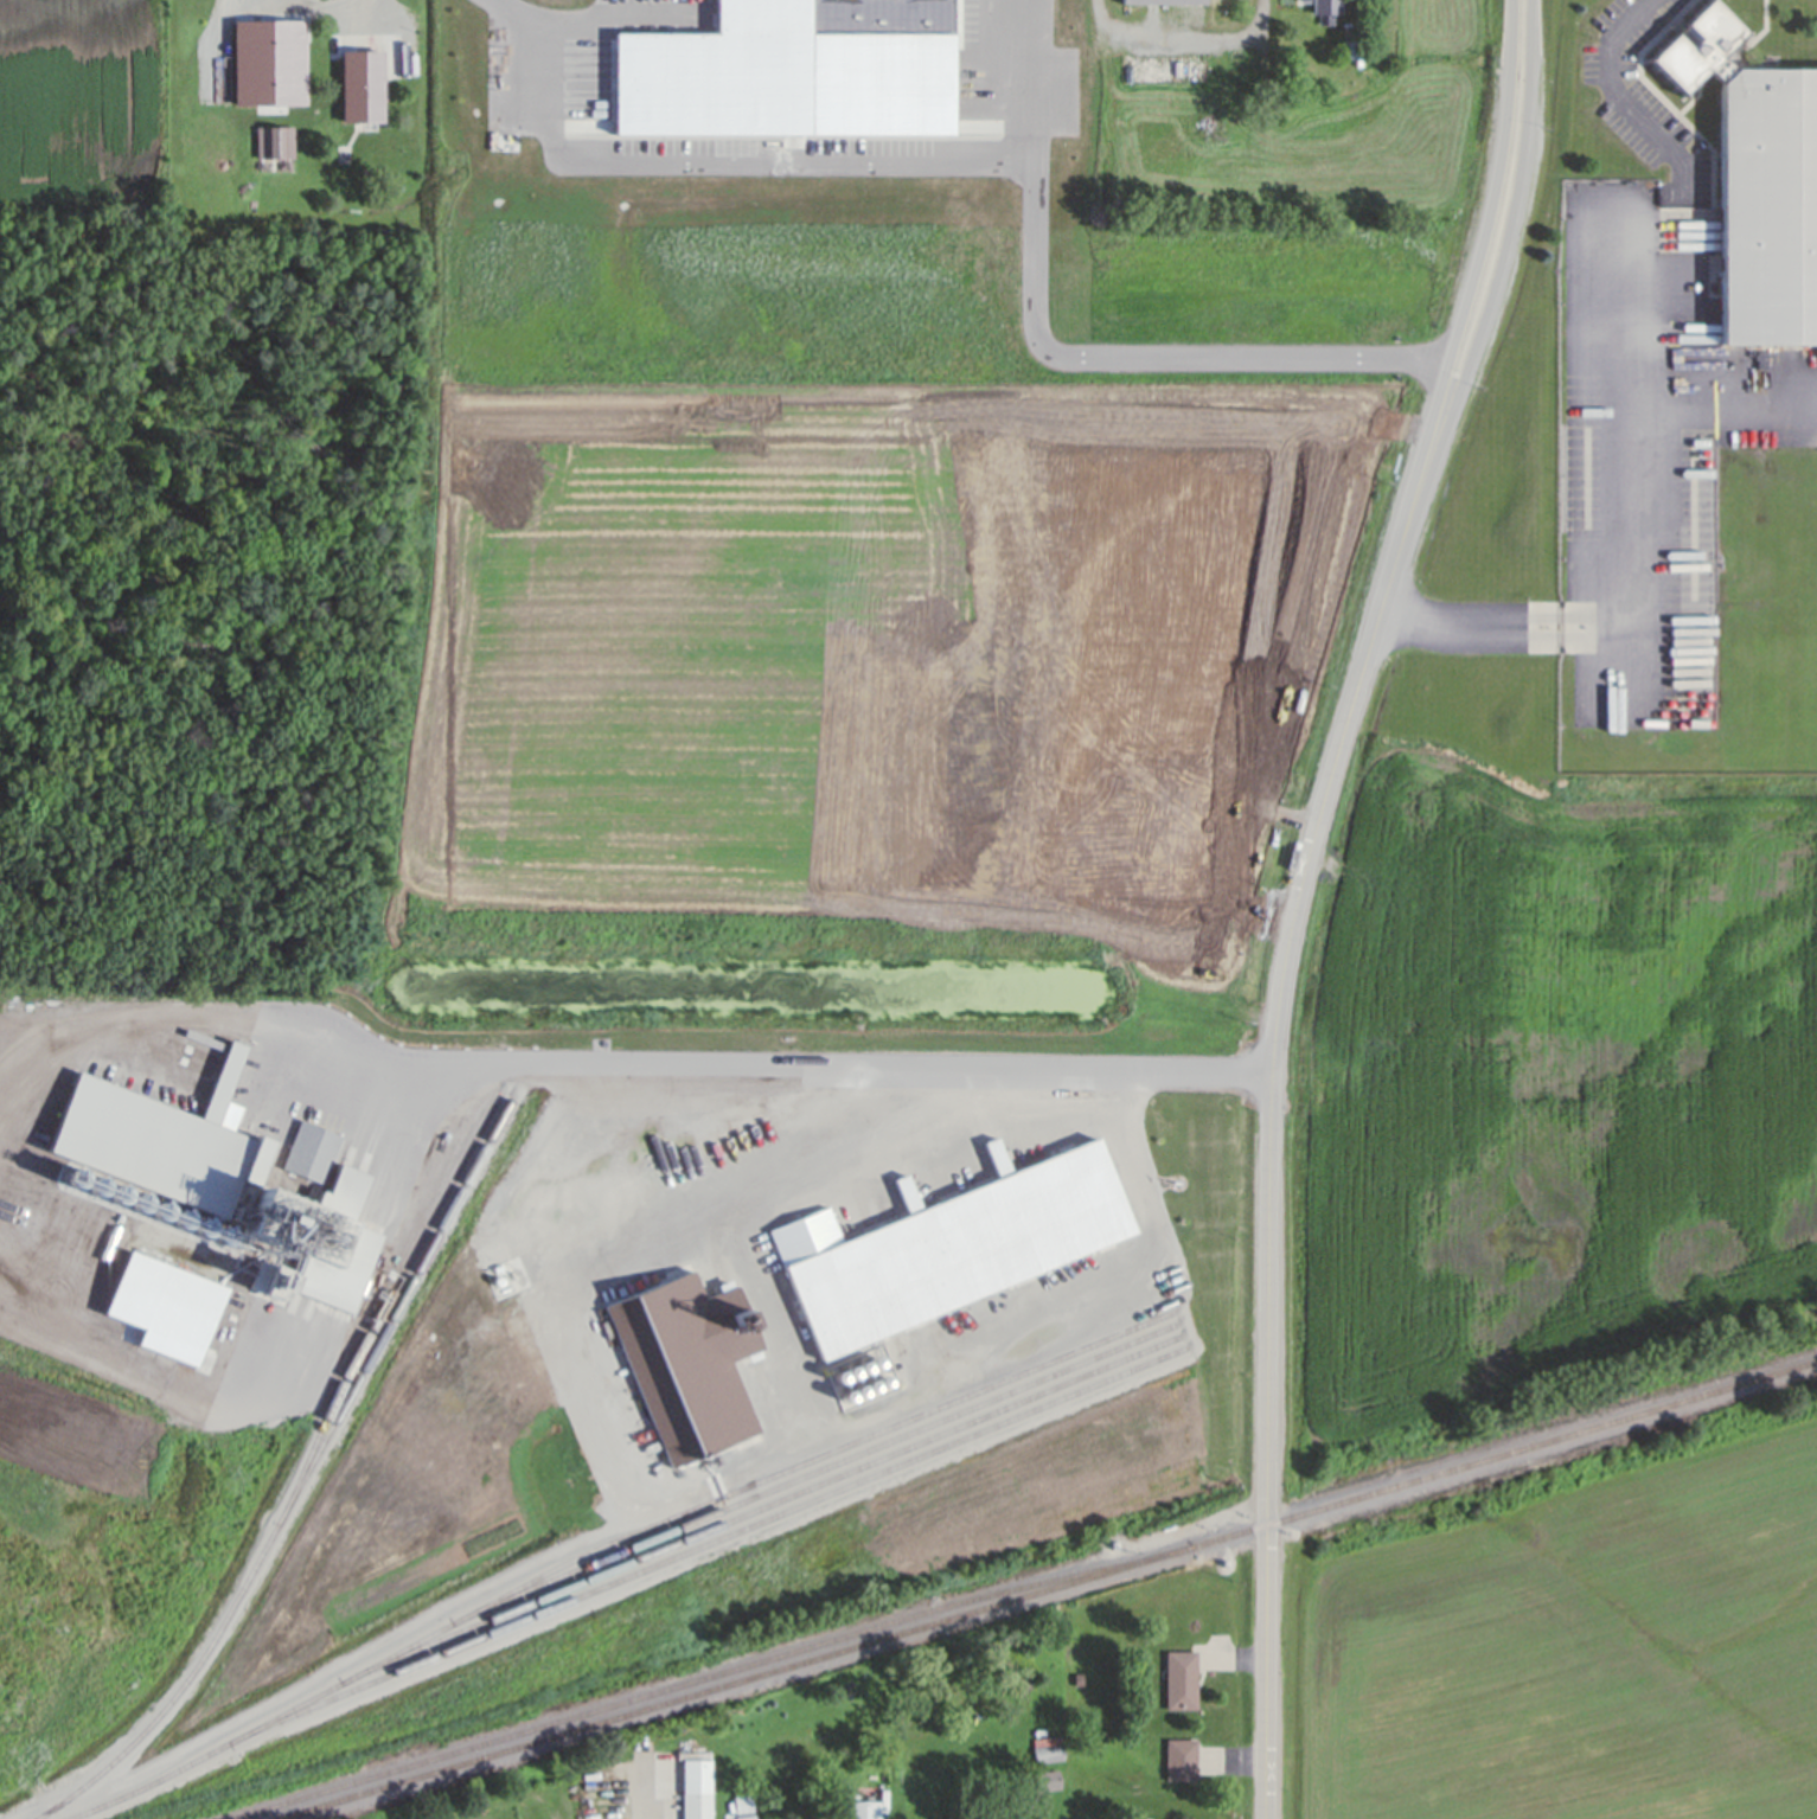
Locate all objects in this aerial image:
building: (1164, 2)
road: (316, 5)
building: (1325, 9)
building: (990, 20)
building: (1053, 39)
road: (1182, 39)
building: (1354, 50)
building: (1164, 68)
building: (946, 82)
building: (363, 87)
crop: (84, 104)
building: (275, 142)
road: (712, 165)
building: (1759, 185)
road: (1474, 275)
road: (1499, 278)
road: (1071, 354)
road: (1629, 393)
road: (1722, 409)
crop: (847, 688)
building: (1181, 808)
building: (1151, 947)
crop: (1542, 1100)
road: (1266, 1172)
building: (946, 1250)
railway: (378, 1326)
railway: (390, 1326)
building: (687, 1364)
railway: (830, 1454)
railway: (834, 1466)
railway: (779, 1503)
railway: (723, 1539)
railway: (1047, 1590)
crop: (1565, 1646)
railway: (711, 1677)
building: (1182, 1682)
railway: (171, 1703)
railway: (283, 1716)
building: (1049, 1750)
building: (1182, 1762)
building: (1050, 1781)
building: (697, 1785)
building: (743, 1805)
building: (863, 1811)
building: (747, 1817)

